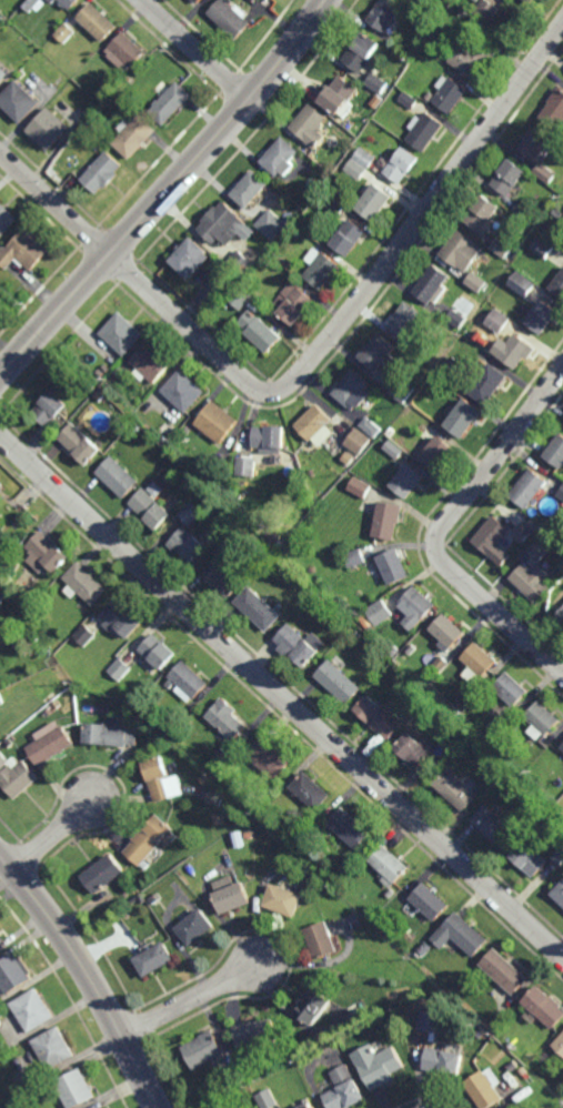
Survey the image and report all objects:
building: (476, 0)
building: (51, 1)
building: (198, 1)
building: (415, 2)
building: (449, 2)
building: (529, 2)
building: (69, 3)
building: (33, 6)
building: (486, 11)
building: (384, 14)
building: (231, 19)
building: (97, 23)
building: (66, 34)
road: (195, 50)
building: (129, 51)
building: (362, 52)
building: (474, 53)
building: (3, 73)
building: (131, 80)
building: (380, 82)
building: (89, 83)
building: (110, 84)
building: (451, 92)
building: (342, 94)
building: (431, 95)
building: (410, 99)
building: (20, 100)
building: (379, 100)
building: (172, 103)
building: (555, 110)
building: (312, 124)
building: (50, 128)
building: (425, 130)
building: (137, 134)
building: (535, 143)
building: (282, 155)
building: (361, 162)
building: (402, 163)
building: (104, 172)
building: (546, 172)
building: (319, 173)
building: (510, 175)
building: (251, 188)
road: (169, 191)
building: (374, 201)
building: (338, 207)
building: (525, 211)
building: (483, 213)
building: (559, 213)
building: (7, 218)
building: (224, 223)
building: (273, 224)
building: (295, 231)
building: (349, 236)
building: (0, 244)
building: (546, 245)
building: (502, 248)
building: (27, 250)
building: (462, 250)
building: (193, 256)
building: (268, 259)
building: (241, 262)
building: (322, 270)
building: (477, 281)
building: (230, 283)
building: (525, 283)
building: (433, 284)
building: (559, 284)
building: (241, 296)
building: (294, 303)
building: (545, 315)
building: (458, 319)
building: (406, 320)
building: (501, 321)
building: (262, 331)
building: (123, 333)
building: (519, 351)
building: (379, 353)
road: (312, 361)
building: (153, 362)
building: (453, 364)
building: (103, 370)
building: (119, 373)
building: (492, 384)
building: (92, 386)
building: (403, 390)
building: (185, 391)
building: (355, 392)
building: (51, 409)
building: (466, 417)
building: (218, 422)
building: (314, 422)
building: (372, 427)
building: (392, 431)
building: (167, 439)
building: (271, 440)
building: (360, 441)
building: (81, 444)
building: (396, 450)
building: (438, 453)
building: (556, 453)
building: (349, 459)
building: (248, 466)
building: (118, 477)
building: (409, 481)
building: (198, 486)
building: (217, 487)
building: (361, 487)
building: (531, 490)
building: (561, 494)
building: (211, 495)
building: (154, 503)
building: (192, 513)
building: (389, 521)
building: (0, 522)
building: (1, 526)
road: (441, 526)
building: (536, 527)
building: (524, 533)
building: (278, 538)
building: (495, 540)
building: (189, 544)
building: (48, 551)
building: (355, 557)
building: (12, 566)
building: (395, 566)
building: (228, 572)
building: (535, 572)
building: (83, 584)
building: (318, 596)
building: (1, 600)
building: (324, 603)
building: (260, 608)
building: (418, 608)
building: (378, 616)
building: (123, 621)
building: (560, 621)
building: (449, 632)
building: (86, 635)
building: (358, 636)
building: (14, 642)
building: (300, 646)
building: (413, 649)
building: (395, 652)
building: (160, 653)
building: (480, 662)
building: (120, 668)
building: (439, 669)
building: (188, 683)
building: (339, 683)
building: (512, 691)
road: (281, 695)
building: (468, 696)
building: (51, 697)
building: (424, 697)
building: (1, 699)
building: (58, 704)
building: (225, 718)
building: (380, 719)
building: (544, 721)
building: (500, 727)
building: (0, 734)
building: (112, 735)
building: (453, 738)
building: (52, 742)
building: (469, 744)
building: (562, 745)
building: (415, 747)
building: (562, 748)
building: (562, 749)
building: (221, 755)
building: (268, 755)
building: (2, 761)
building: (20, 776)
building: (205, 776)
building: (162, 778)
building: (458, 785)
building: (310, 788)
building: (214, 794)
building: (233, 805)
building: (495, 824)
building: (349, 826)
building: (249, 834)
road: (54, 835)
building: (148, 837)
building: (560, 854)
building: (530, 856)
building: (389, 864)
building: (104, 870)
building: (229, 892)
building: (559, 892)
building: (390, 893)
building: (284, 897)
building: (426, 901)
building: (193, 924)
building: (462, 933)
building: (2, 937)
building: (321, 939)
building: (426, 945)
building: (152, 956)
building: (13, 970)
building: (505, 970)
road: (87, 975)
road: (192, 997)
building: (313, 1005)
building: (545, 1006)
building: (32, 1008)
building: (430, 1020)
building: (253, 1033)
building: (559, 1044)
building: (52, 1046)
building: (201, 1049)
building: (531, 1054)
building: (444, 1060)
building: (378, 1064)
building: (513, 1065)
building: (234, 1078)
building: (486, 1087)
building: (76, 1088)
building: (342, 1089)
building: (267, 1098)
building: (306, 1104)
building: (101, 1107)

